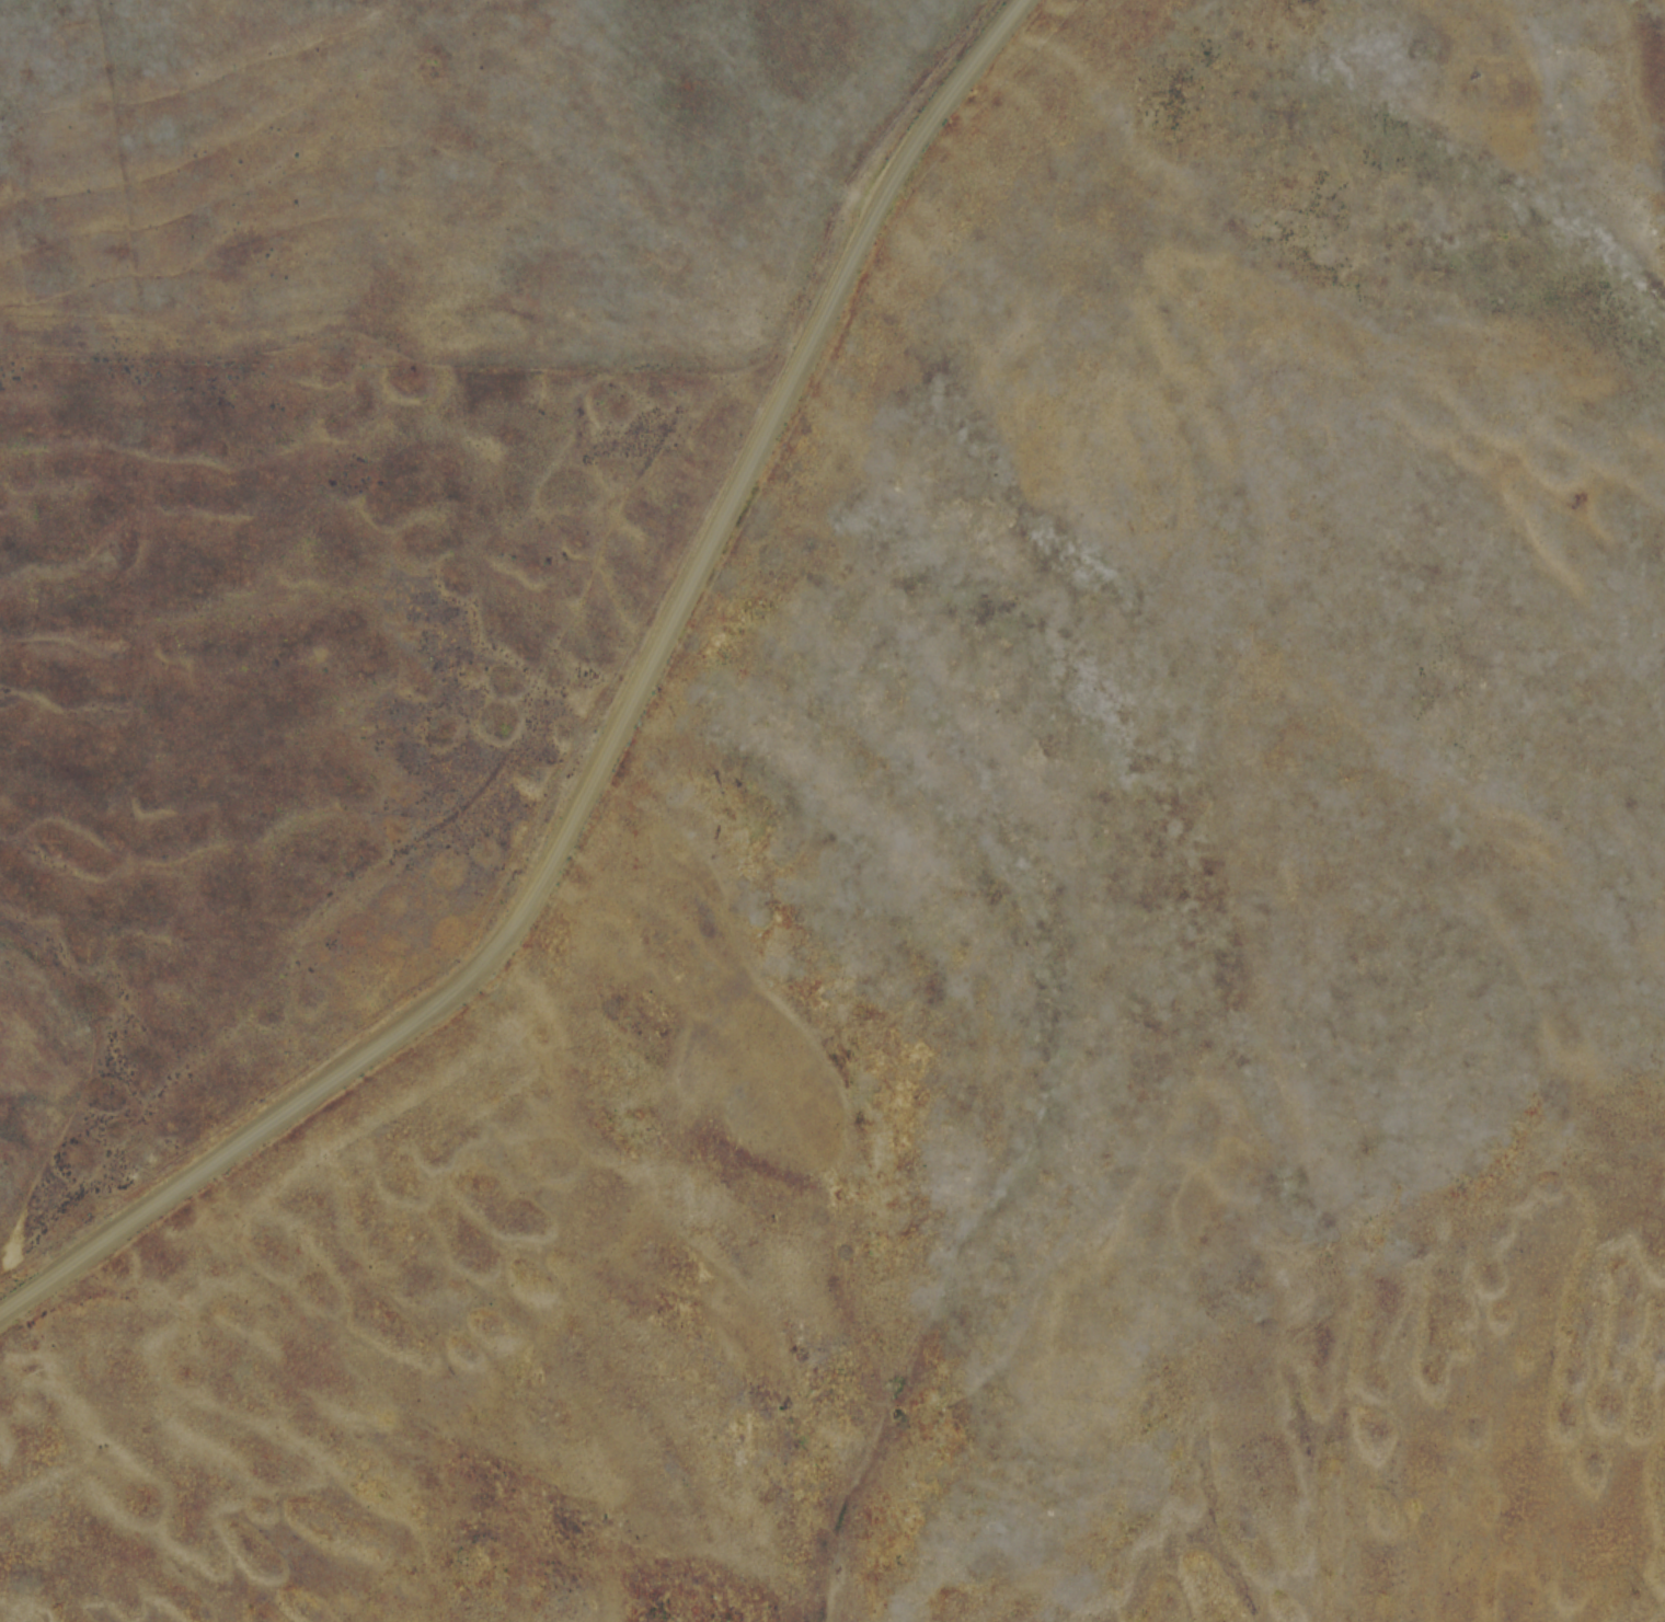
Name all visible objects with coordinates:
road: (607, 740)

